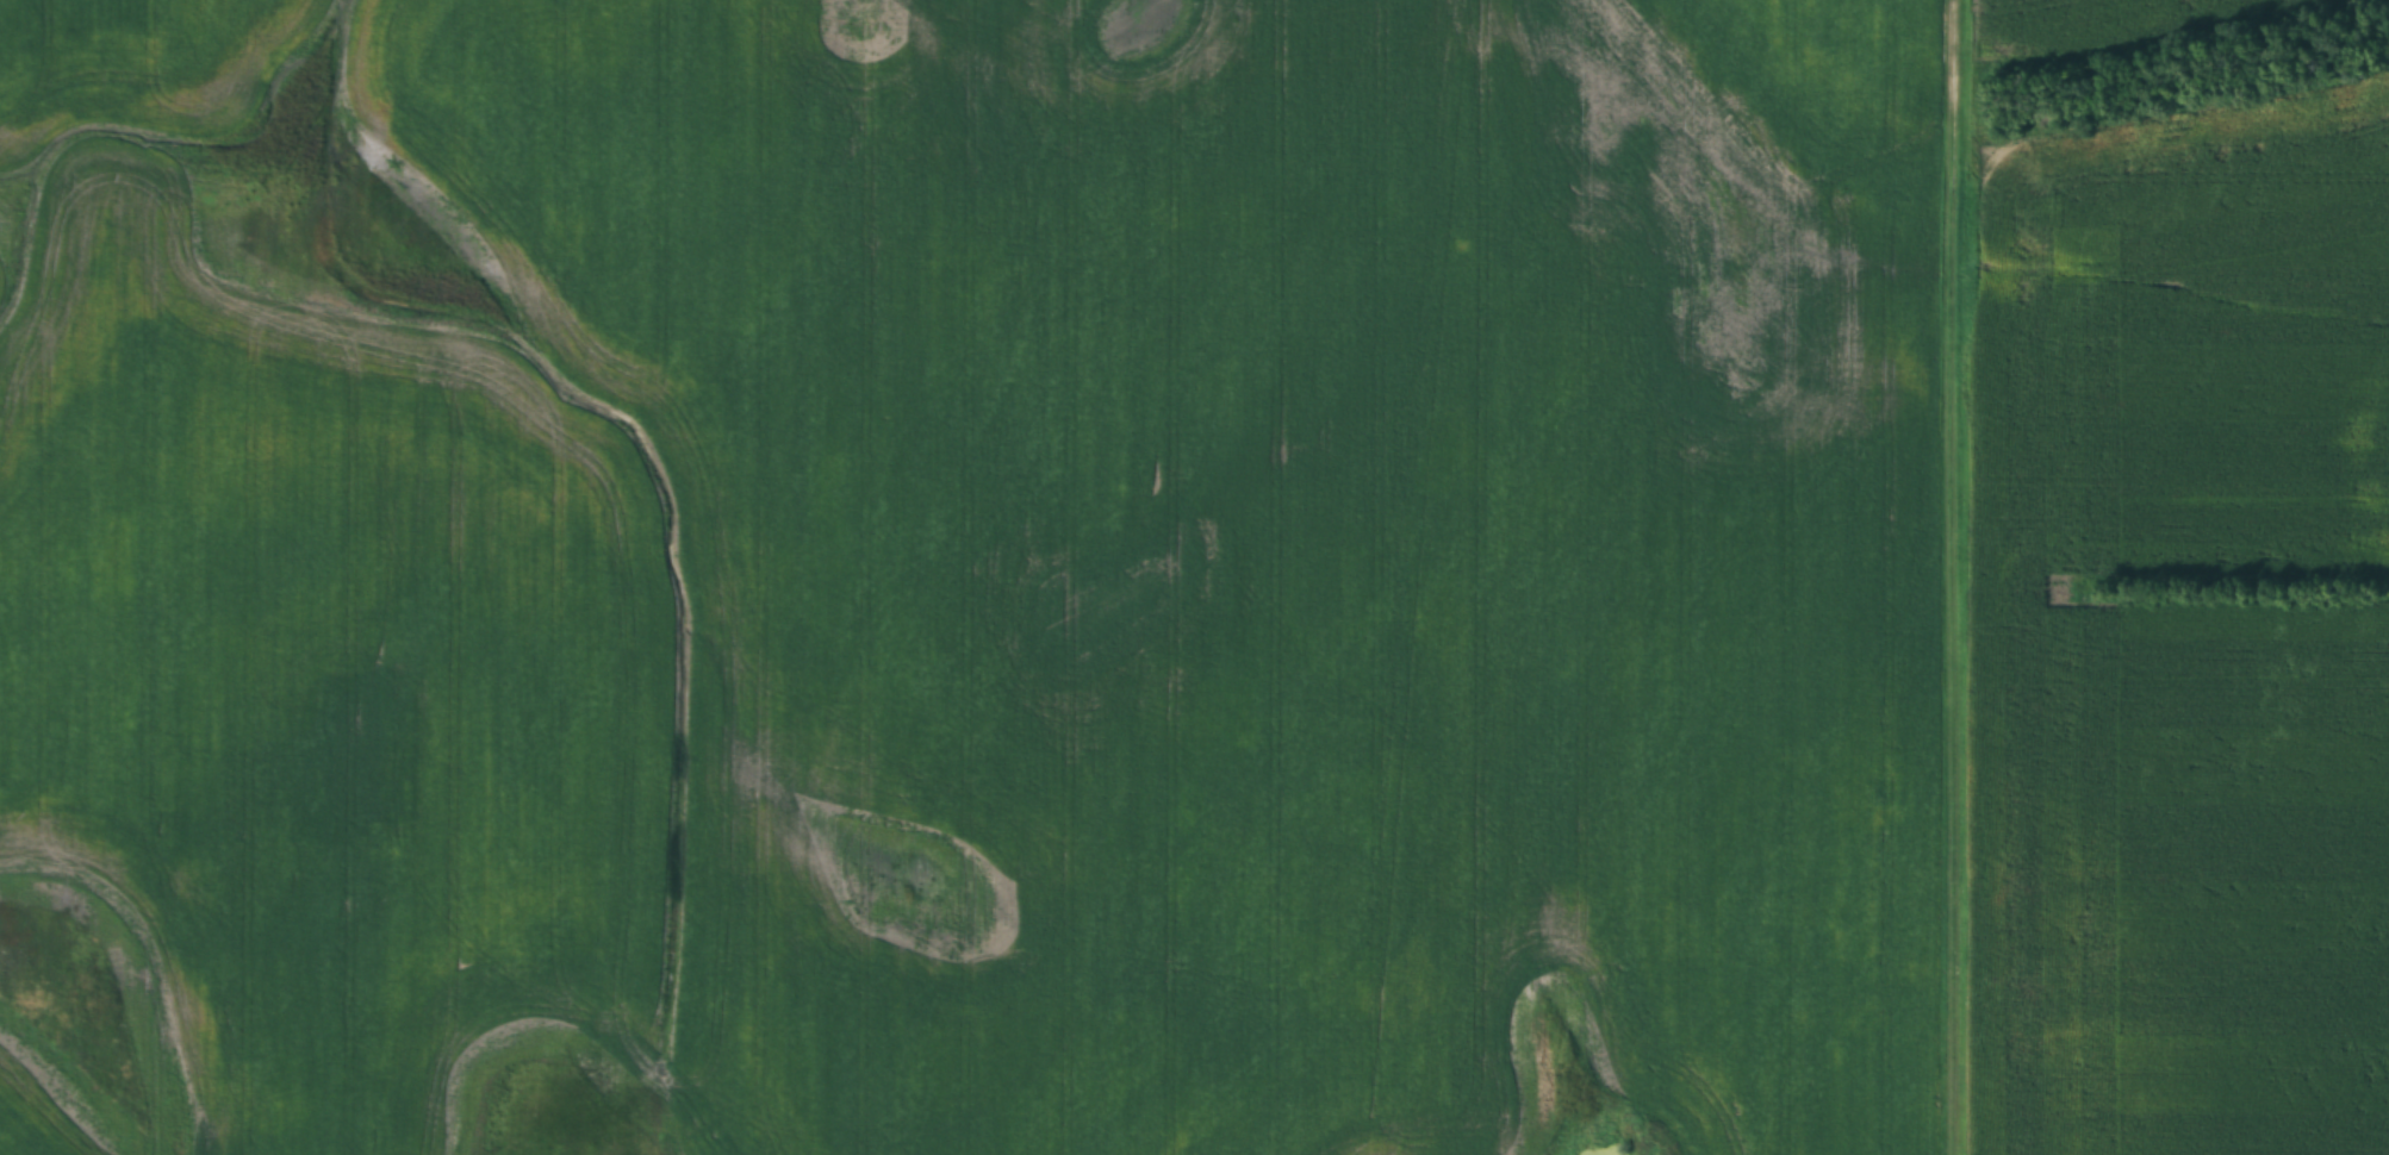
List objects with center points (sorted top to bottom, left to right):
road: (1952, 577)

